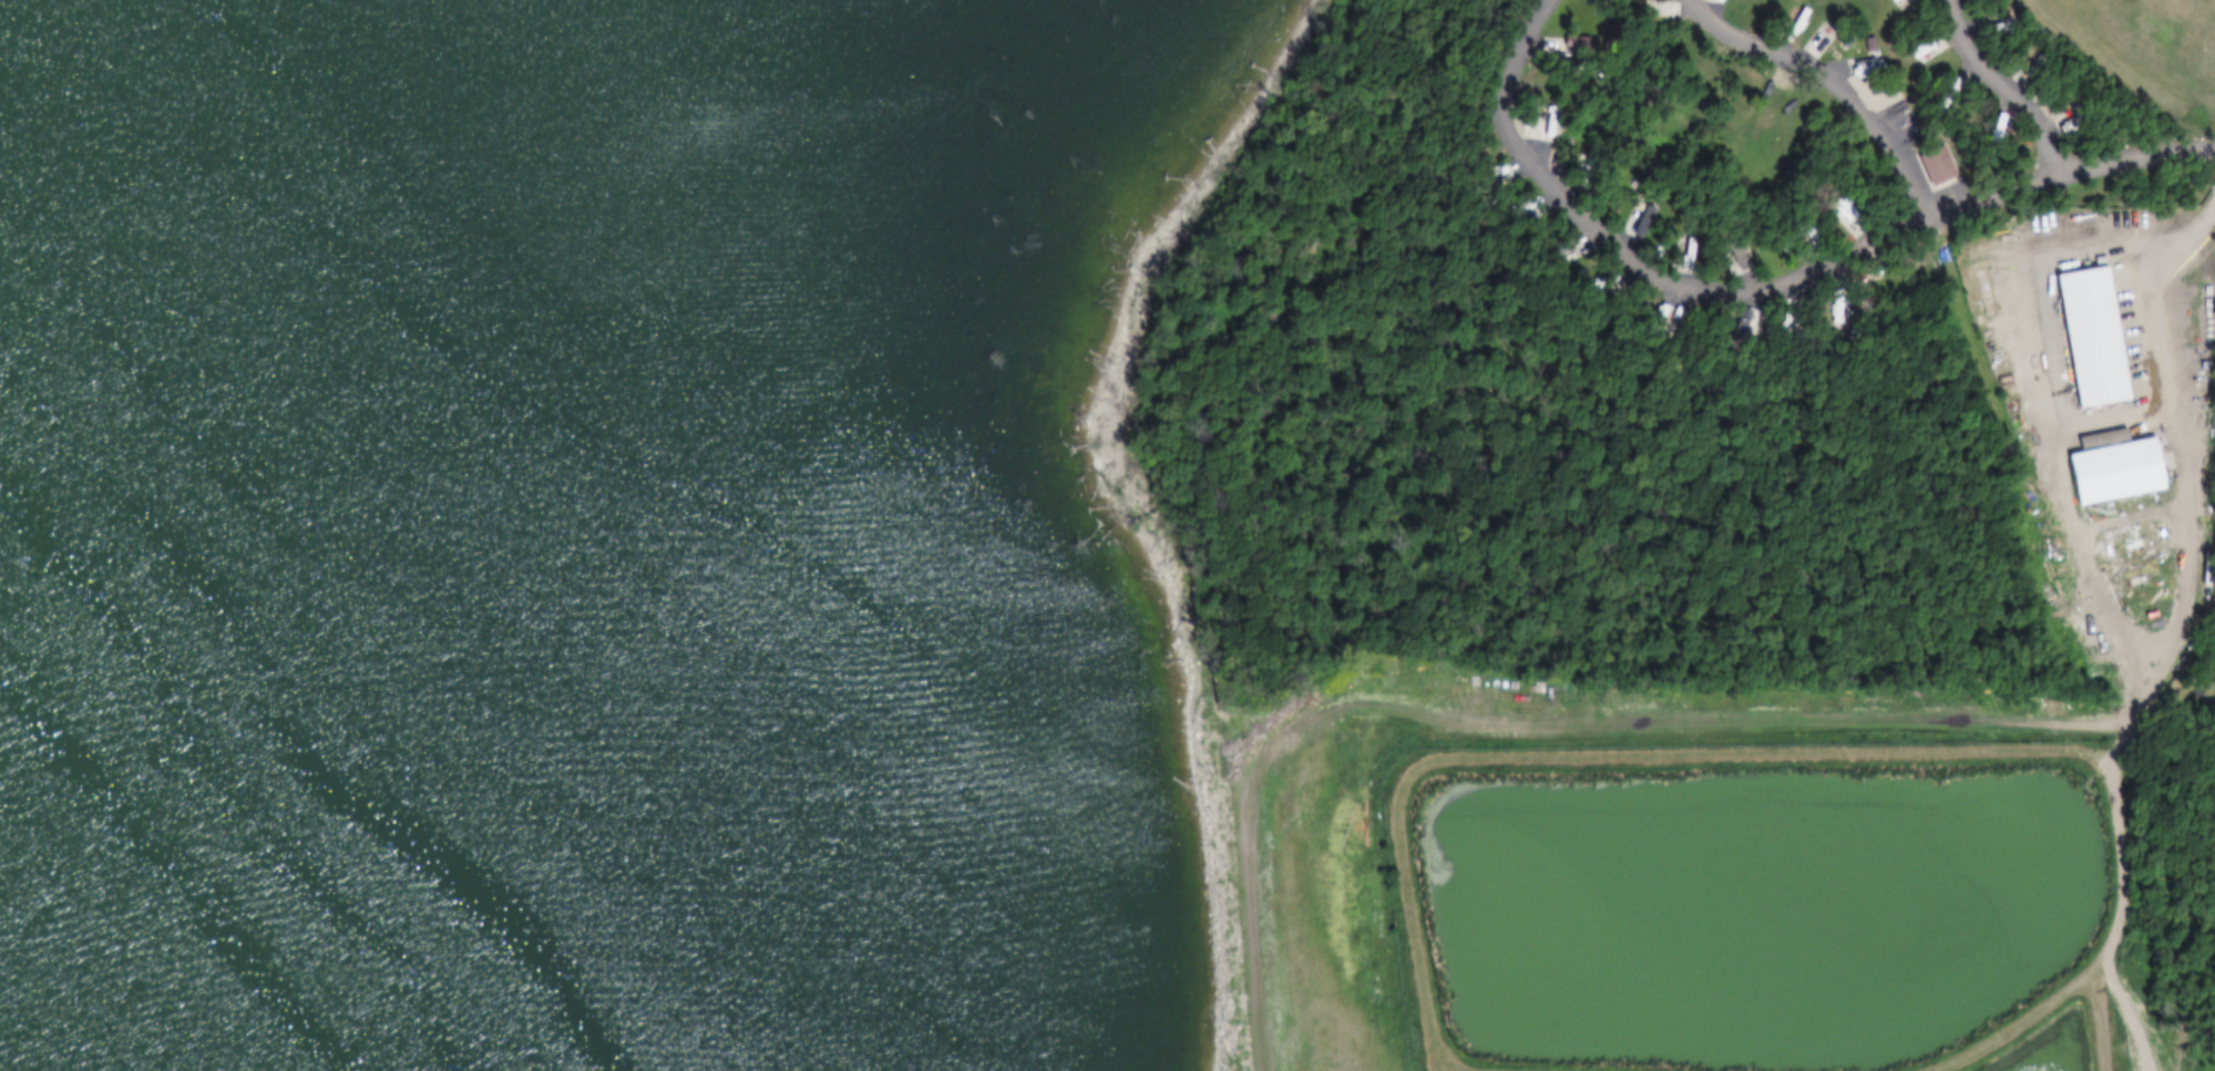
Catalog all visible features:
building: (1712, 0)
building: (1891, 1)
building: (1988, 28)
building: (1927, 49)
building: (2029, 73)
building: (1944, 94)
building: (1528, 115)
building: (1991, 130)
building: (1930, 164)
building: (1576, 168)
building: (1479, 171)
building: (1500, 178)
building: (1514, 207)
building: (1845, 212)
building: (1634, 214)
building: (1801, 234)
building: (1546, 244)
road: (2125, 246)
building: (1676, 253)
building: (1725, 254)
building: (1736, 259)
building: (1592, 281)
building: (1650, 320)
building: (1732, 329)
building: (2084, 336)
road: (2104, 415)
building: (2106, 468)
road: (2177, 531)
road: (1663, 754)
road: (2103, 952)
road: (2123, 1016)
road: (2100, 1017)

